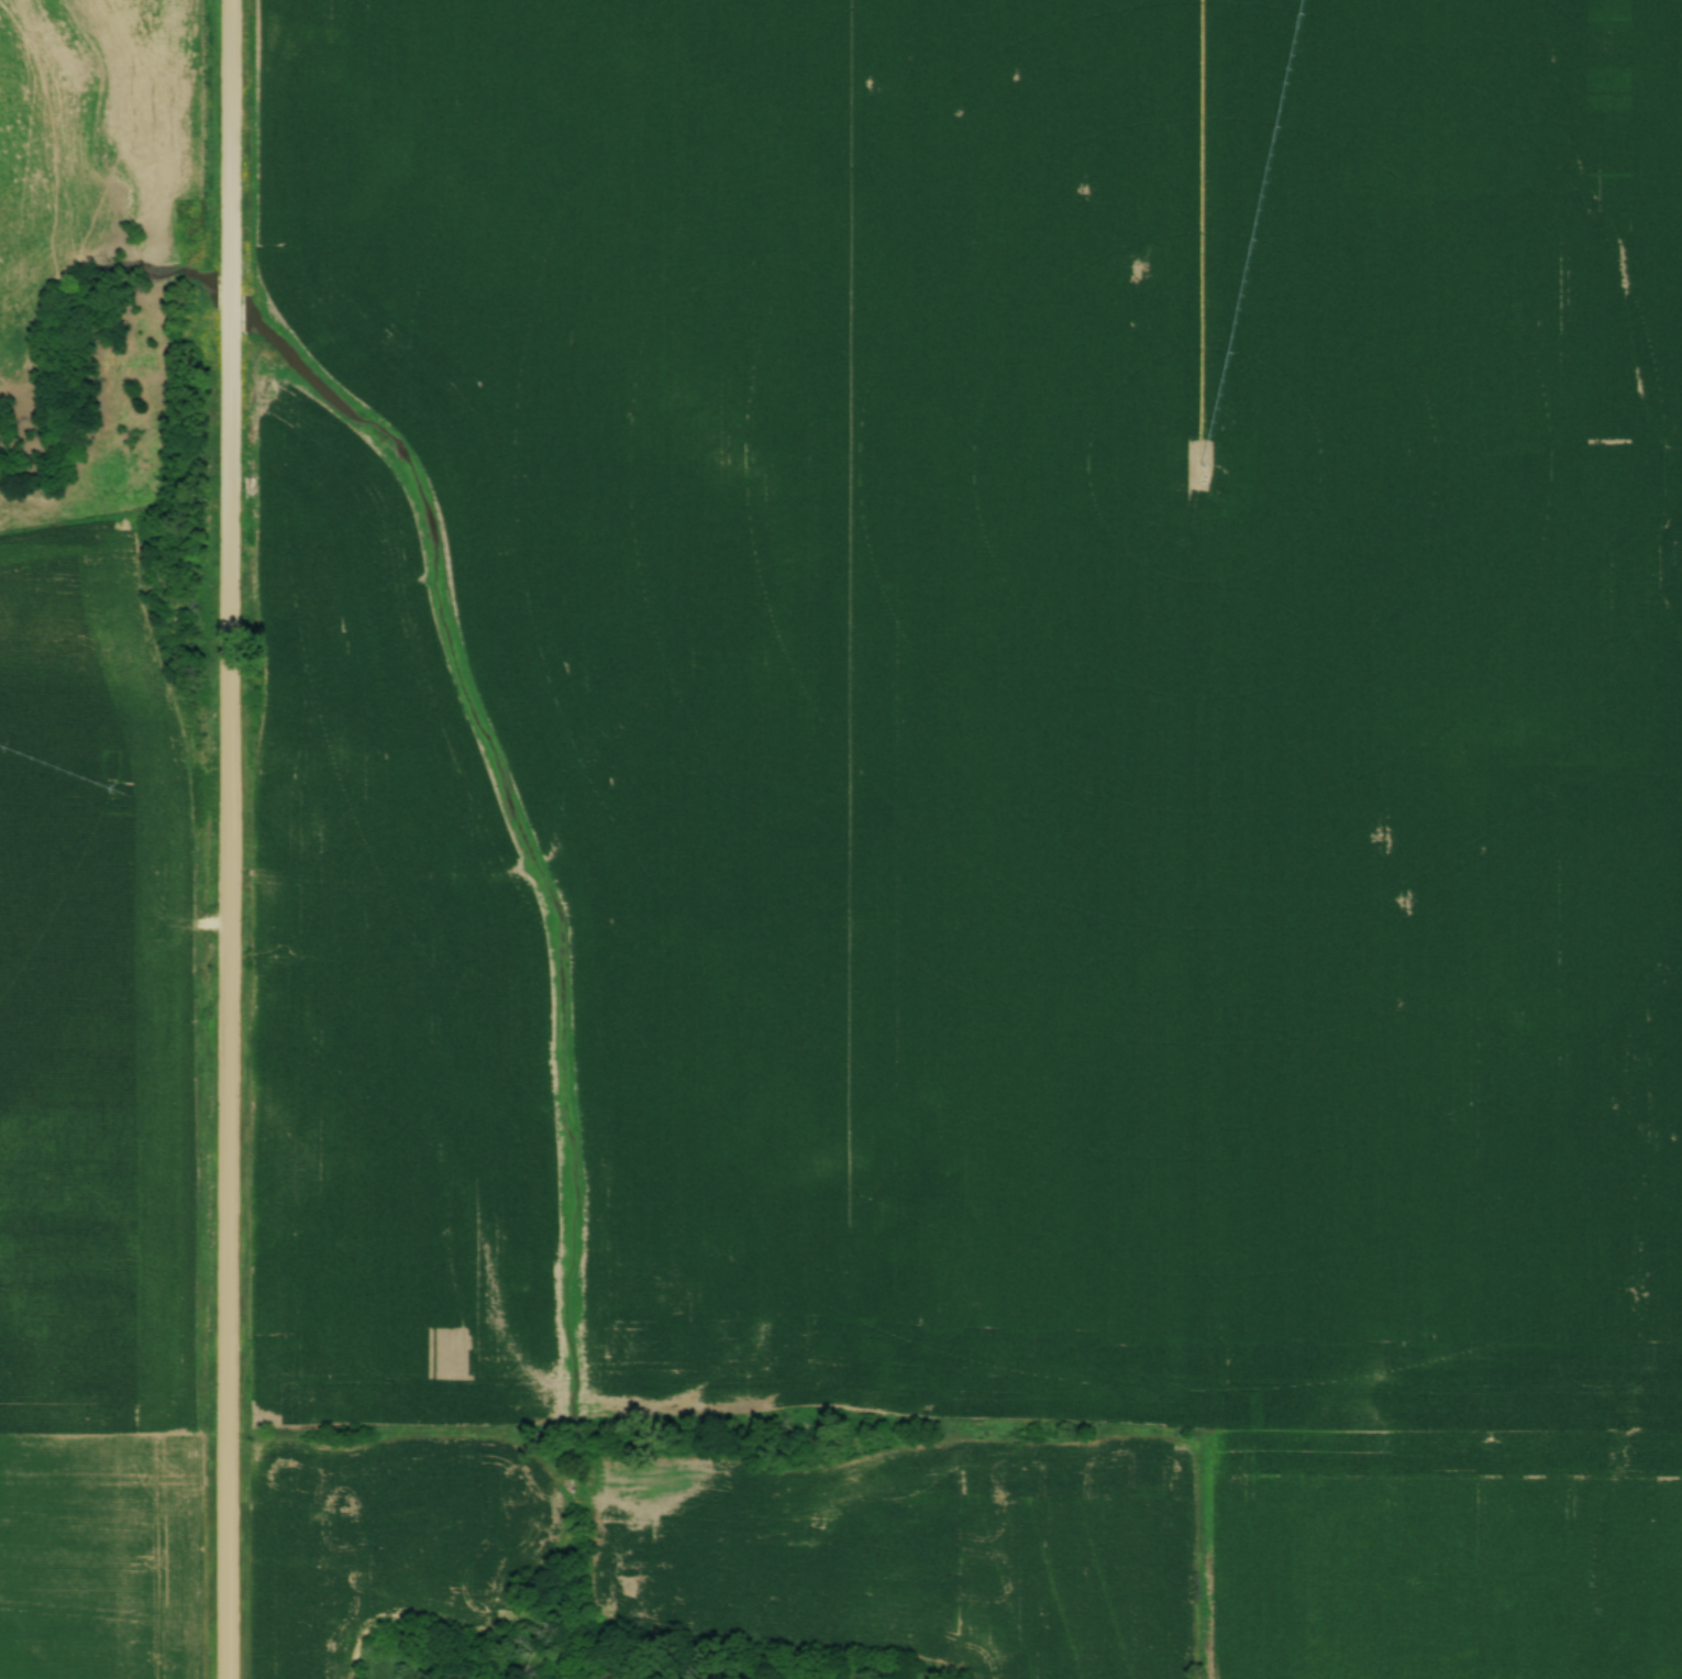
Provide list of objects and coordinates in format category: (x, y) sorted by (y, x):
road: (230, 839)

